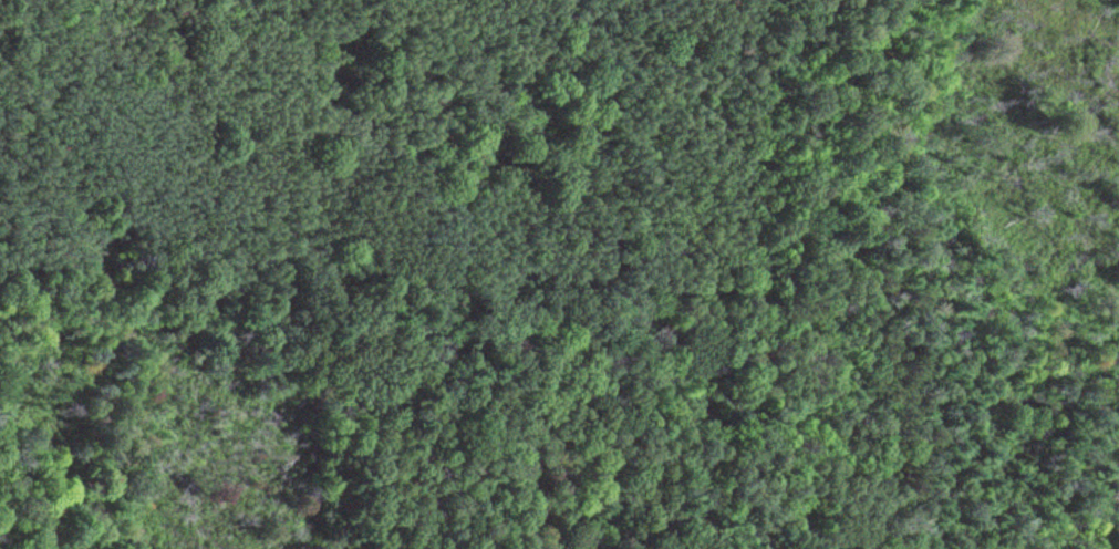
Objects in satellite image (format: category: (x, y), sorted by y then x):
road: (817, 276)

